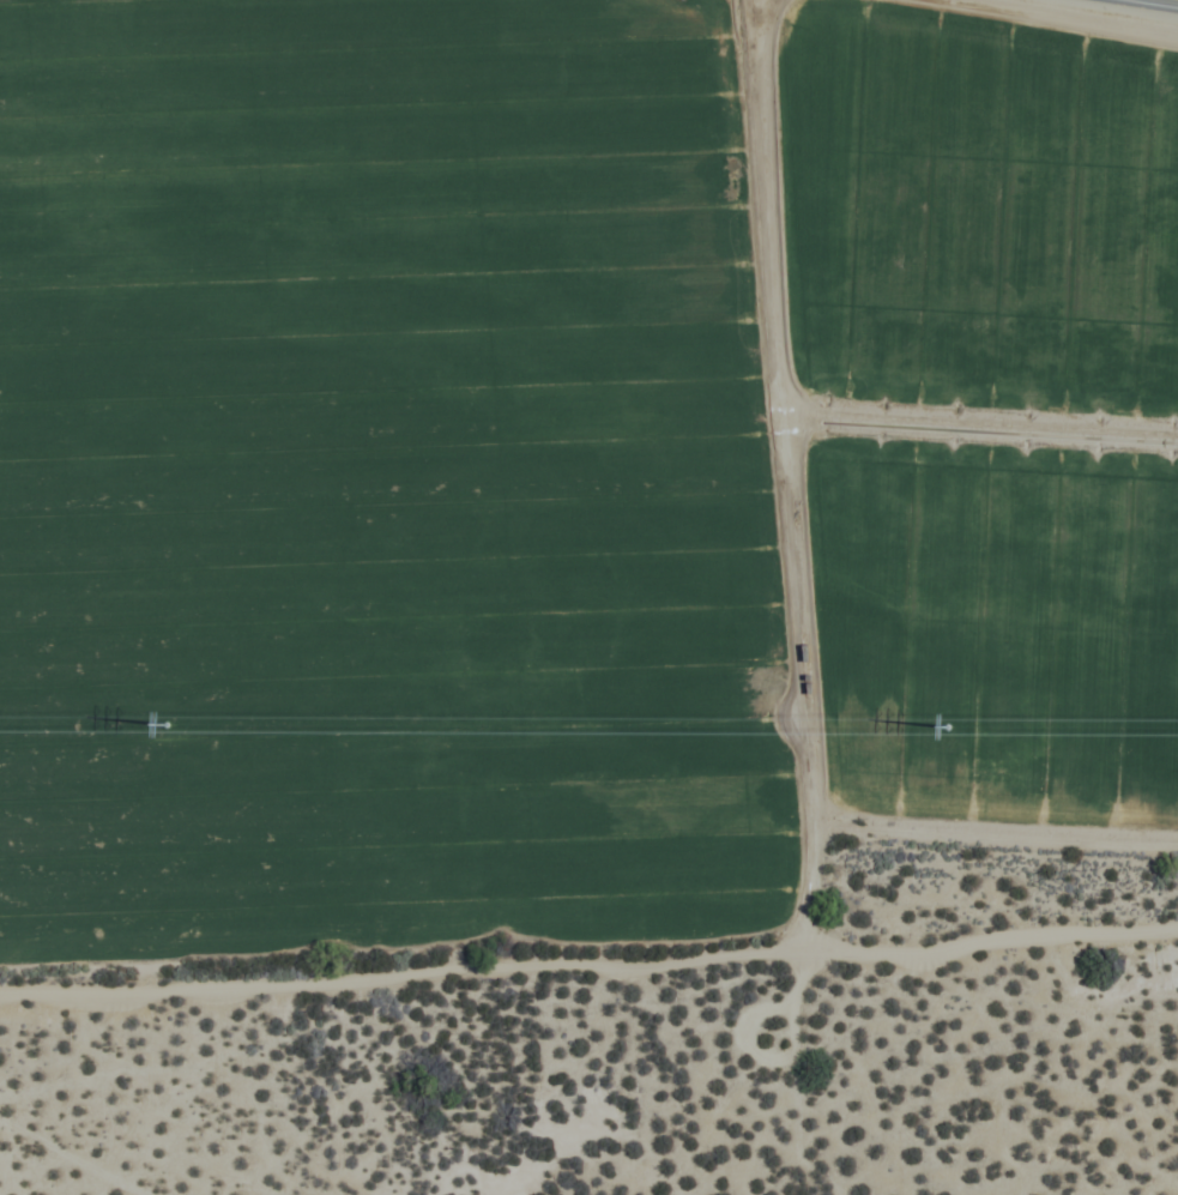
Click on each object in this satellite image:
road: (1165, 1)
power tower: (167, 720)
power tower: (948, 722)

